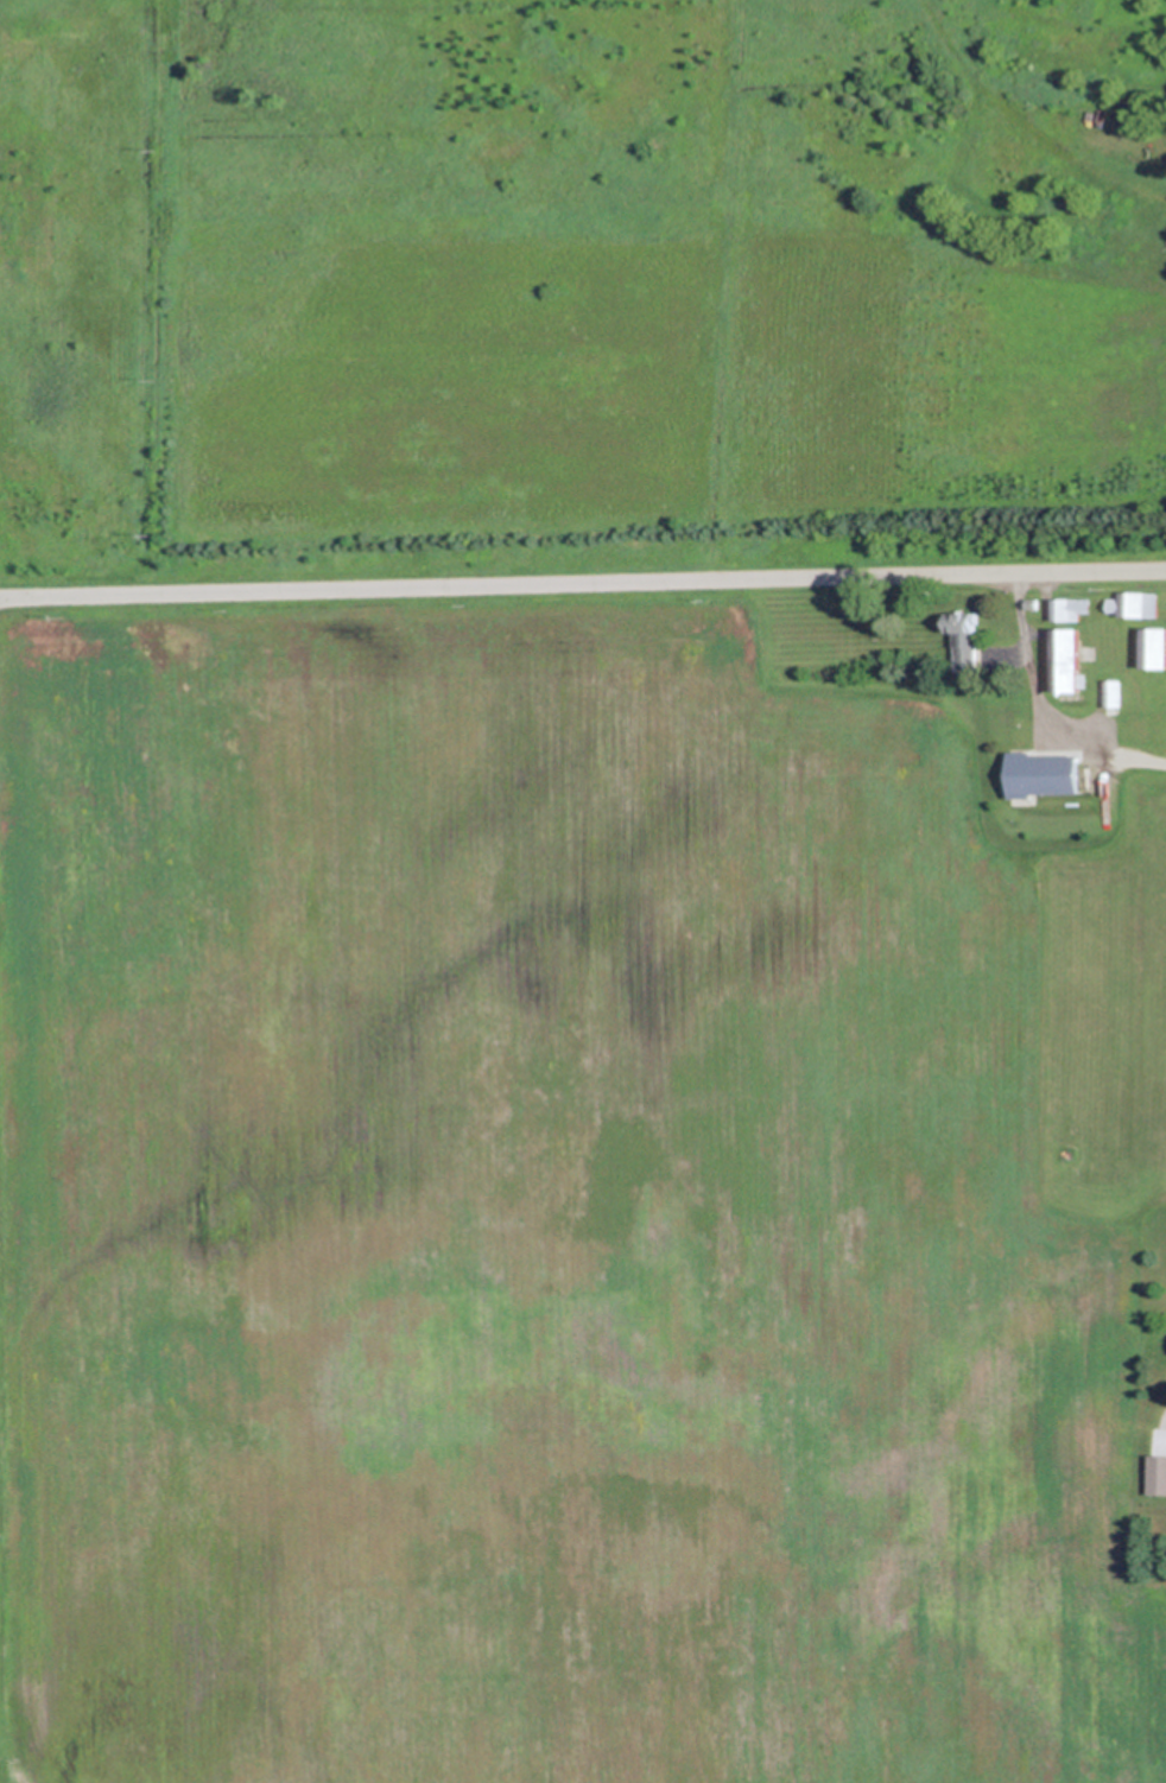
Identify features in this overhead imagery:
road: (582, 582)
building: (1032, 603)
building: (1132, 603)
building: (1071, 607)
building: (962, 640)
building: (1153, 647)
building: (1067, 660)
building: (1111, 692)
road: (1045, 705)
building: (1044, 773)
building: (1158, 1474)

